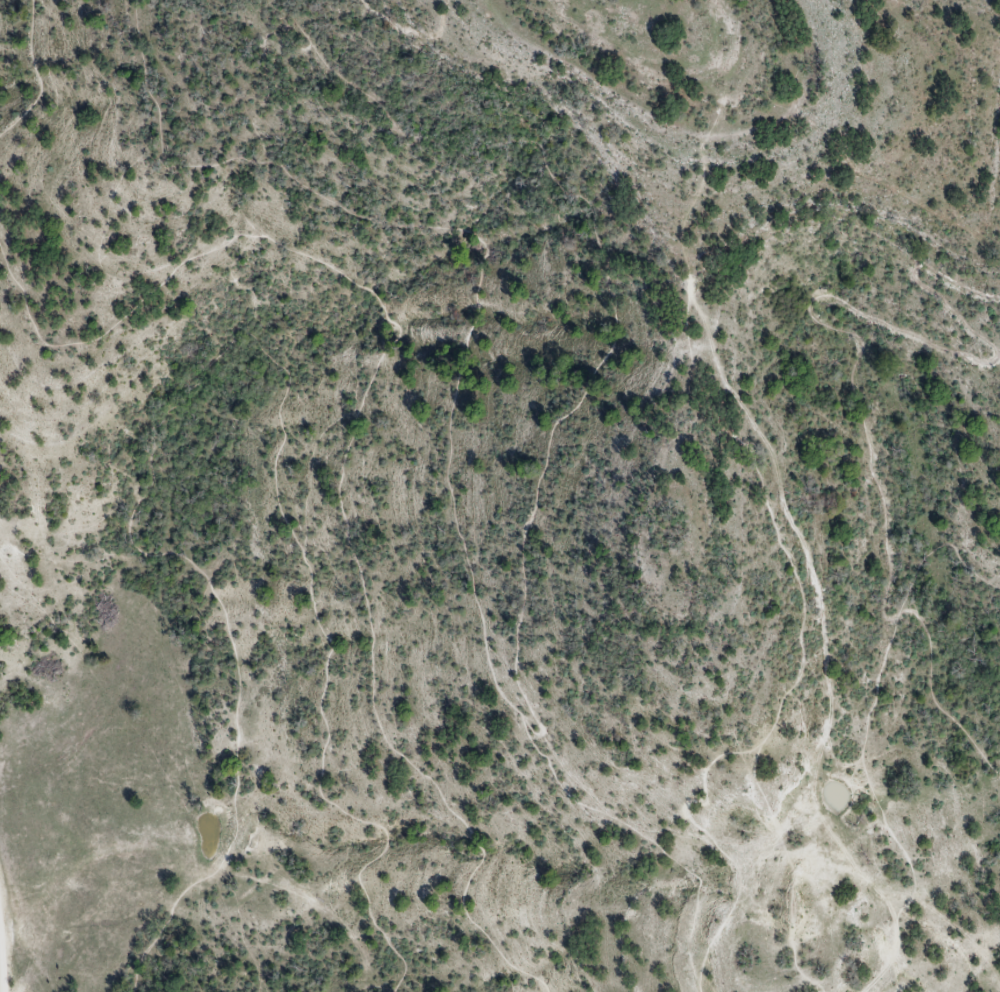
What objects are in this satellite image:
road: (411, 30)
road: (39, 73)
road: (786, 96)
road: (273, 364)
road: (345, 437)
road: (800, 590)
road: (497, 682)
road: (865, 734)
road: (640, 832)
road: (154, 855)
road: (165, 923)
road: (2, 960)

